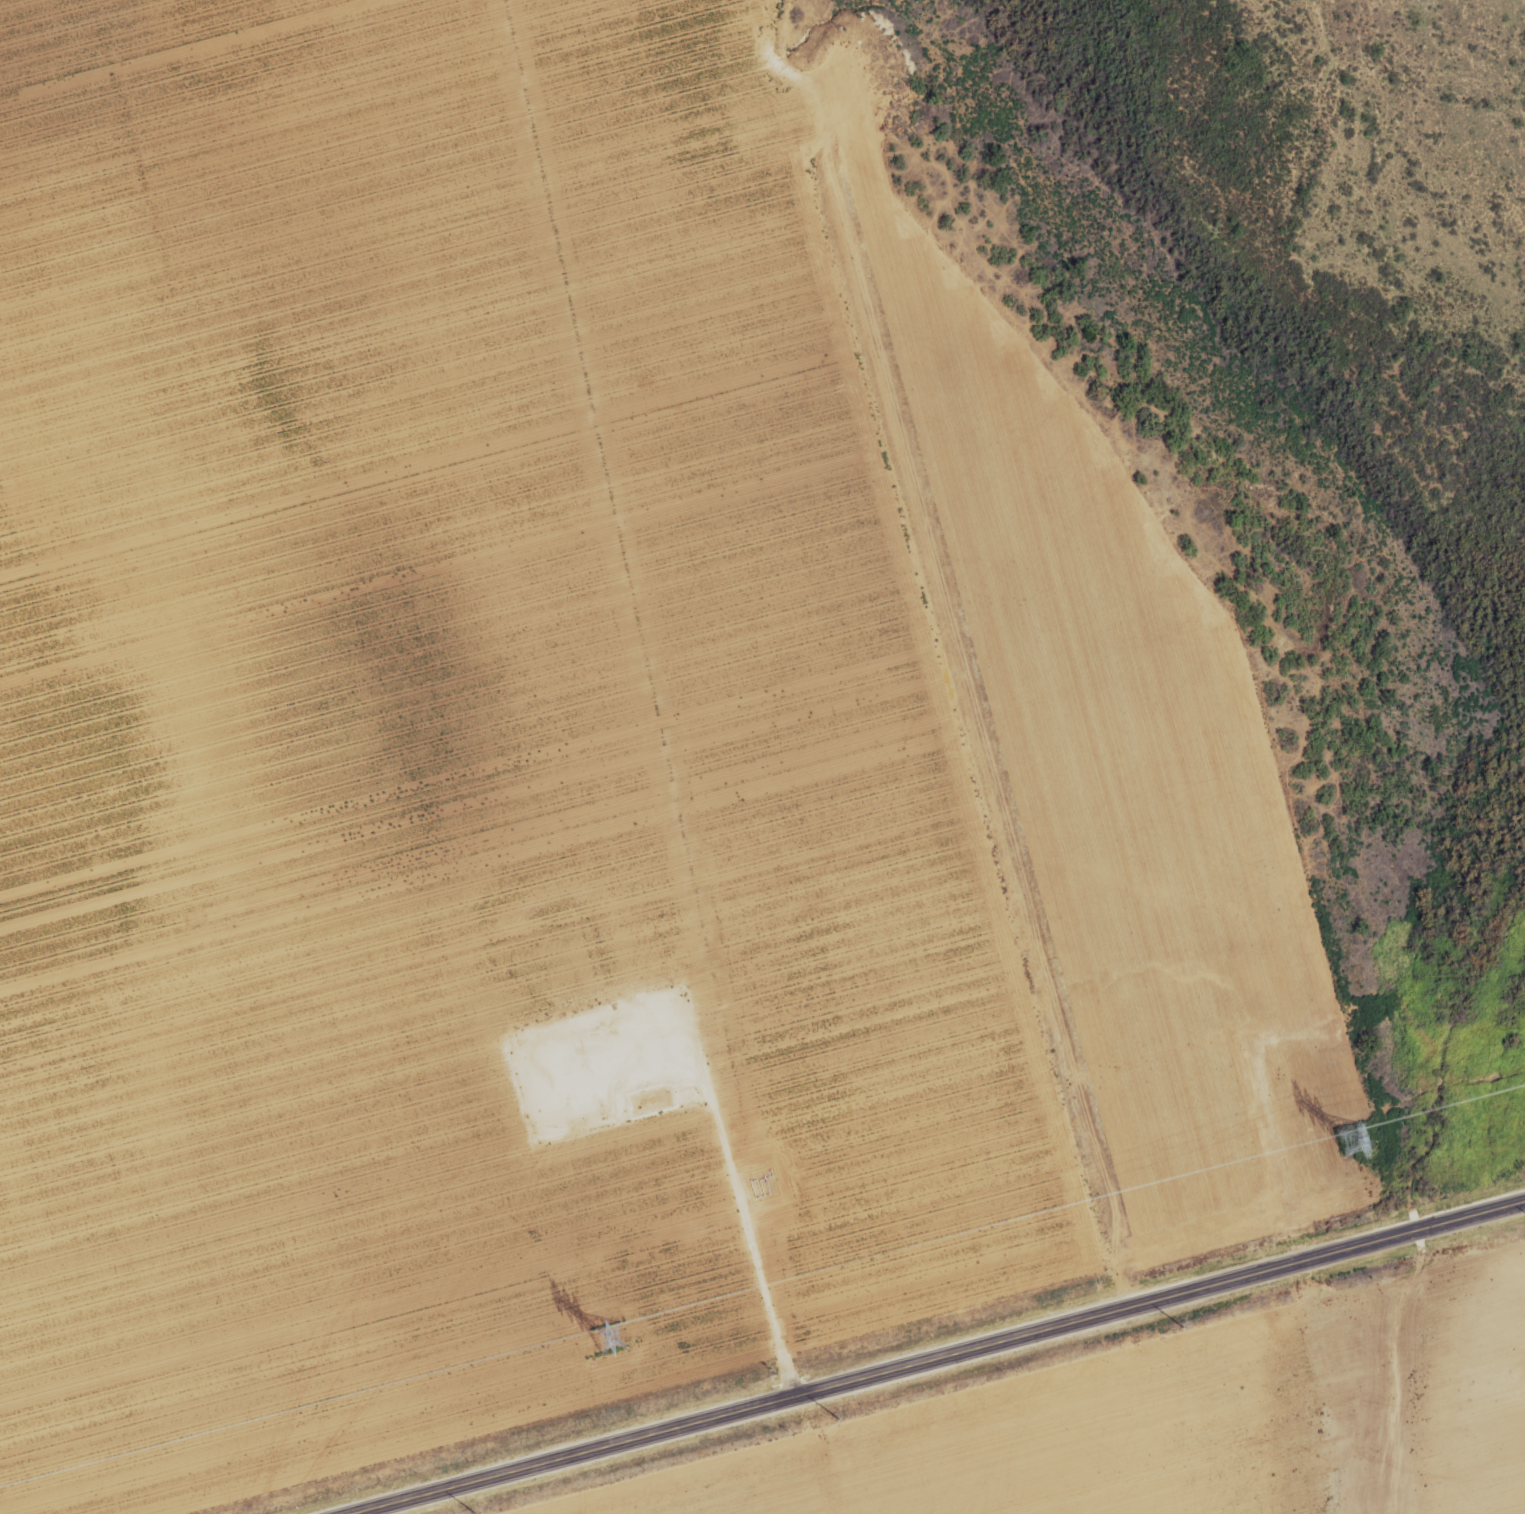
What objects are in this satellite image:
power tower: (1352, 1139)
power tower: (1192, 1323)
power tower: (612, 1335)
road: (925, 1357)
power tower: (828, 1422)

